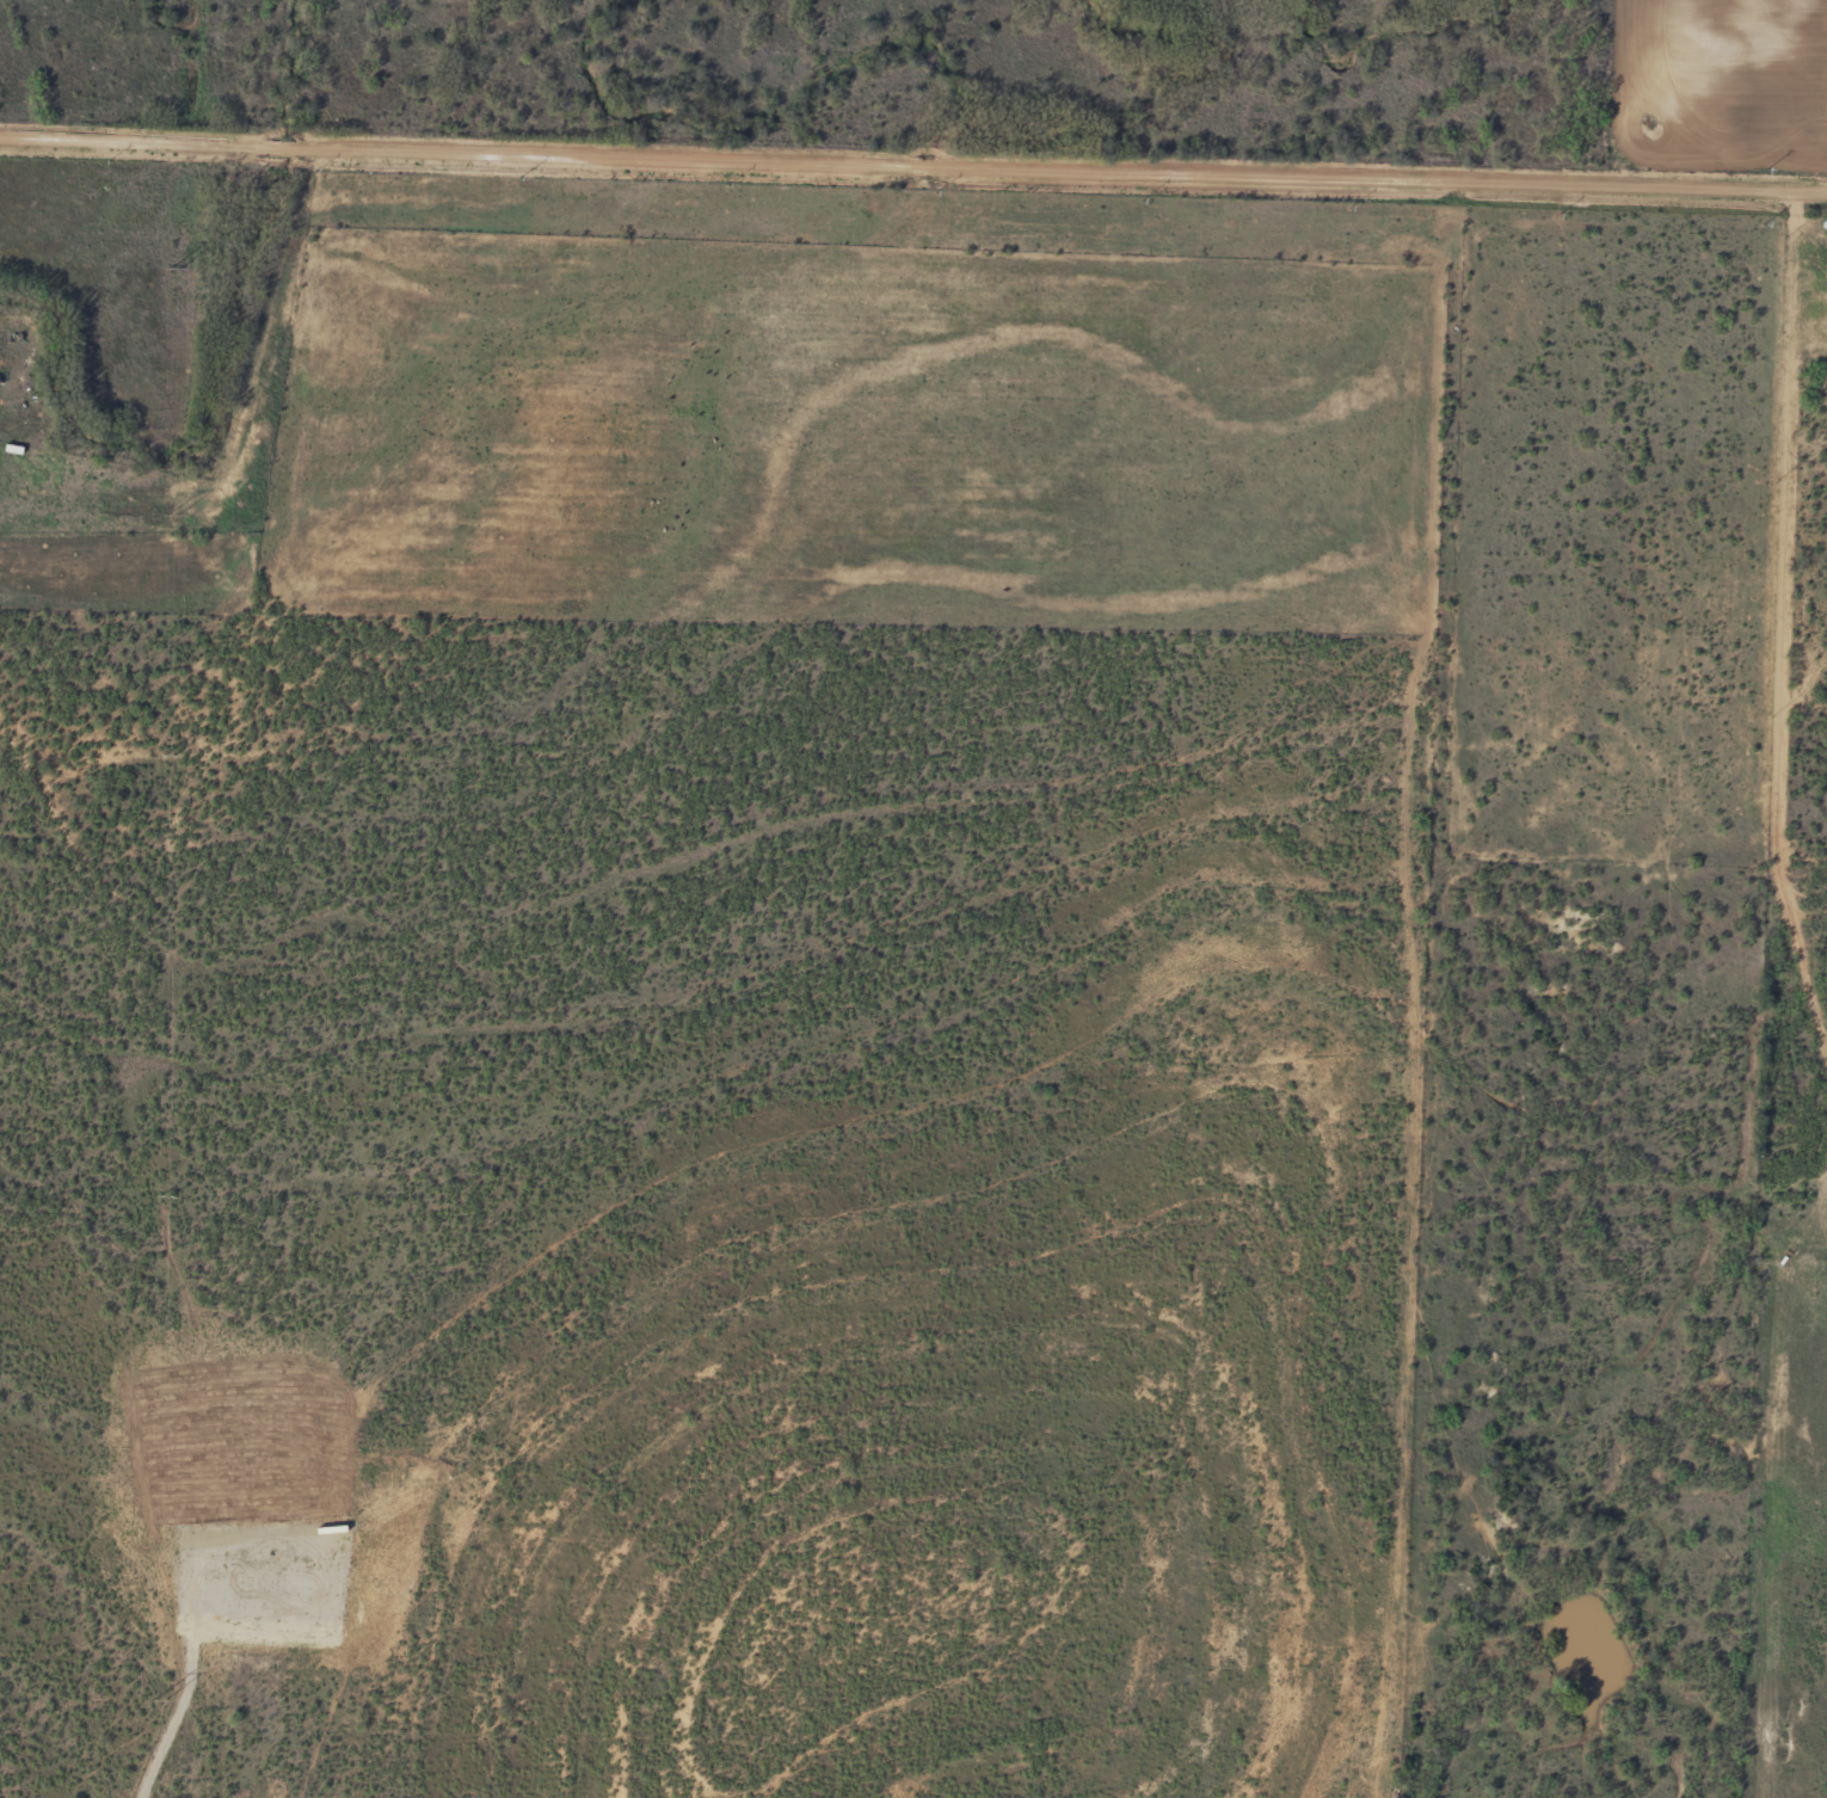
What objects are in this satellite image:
road: (912, 161)
power tower: (174, 267)
power tower: (172, 515)
power tower: (168, 755)
power tower: (164, 1194)
power tower: (158, 1700)

